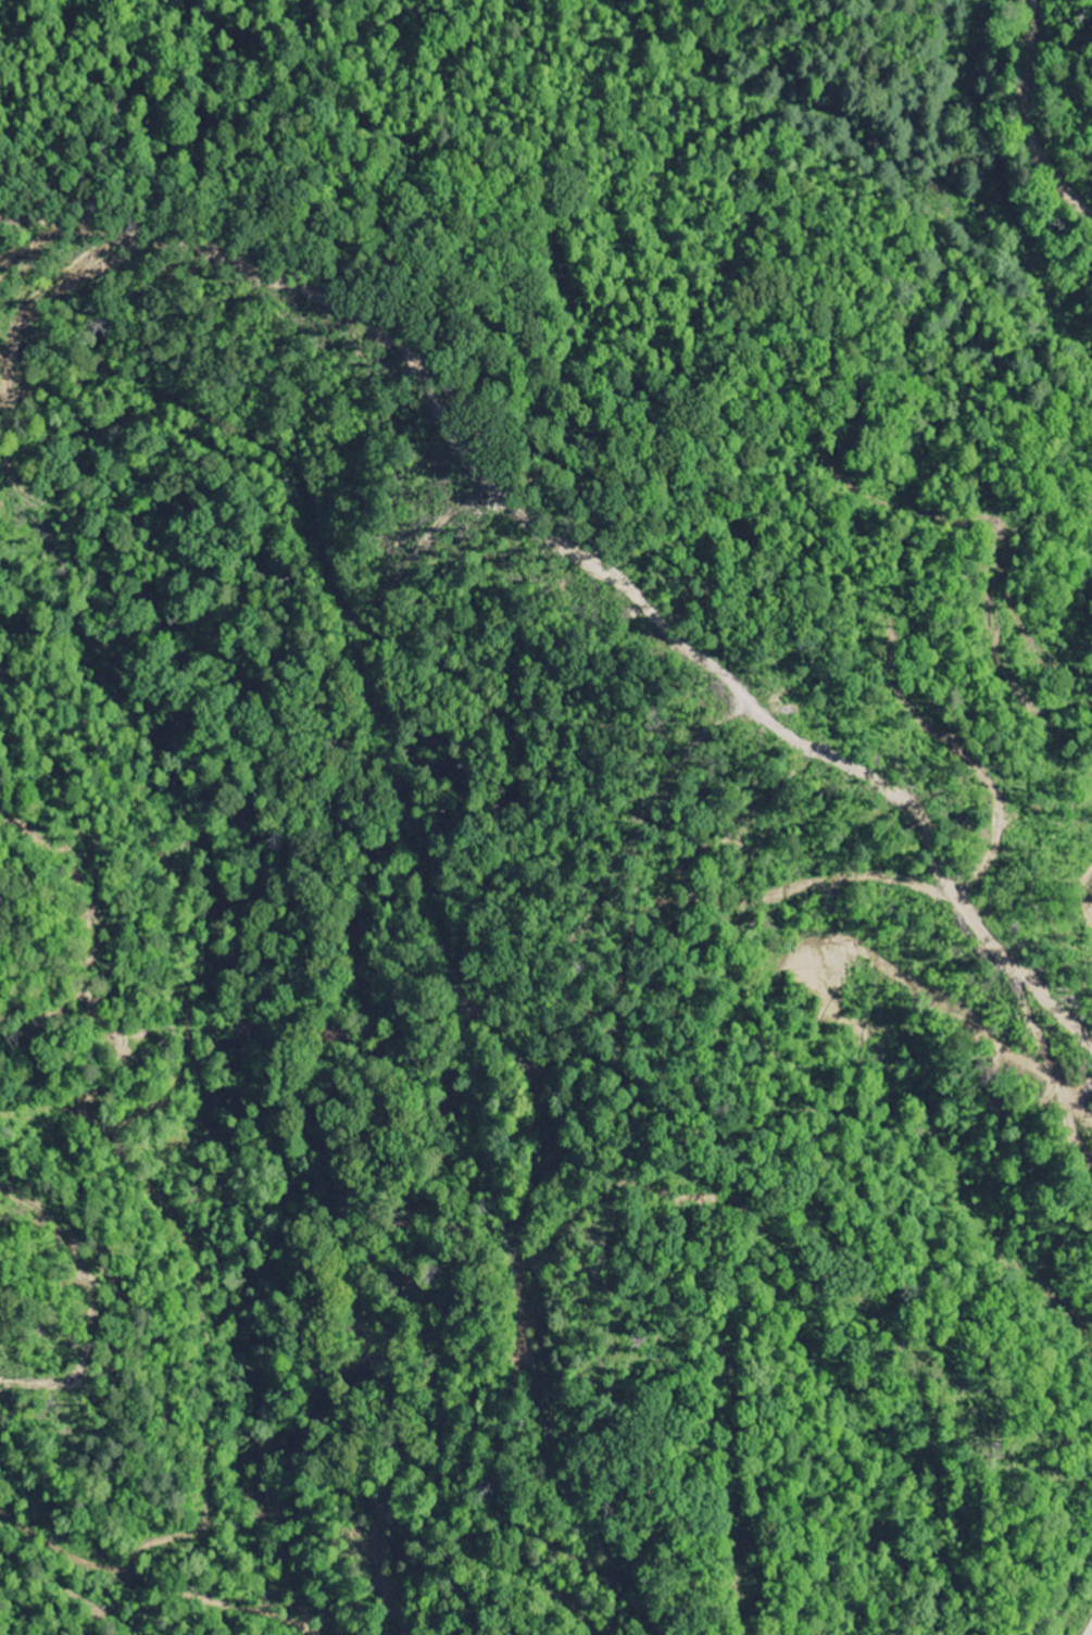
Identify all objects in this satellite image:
road: (1030, 117)
road: (197, 1104)

